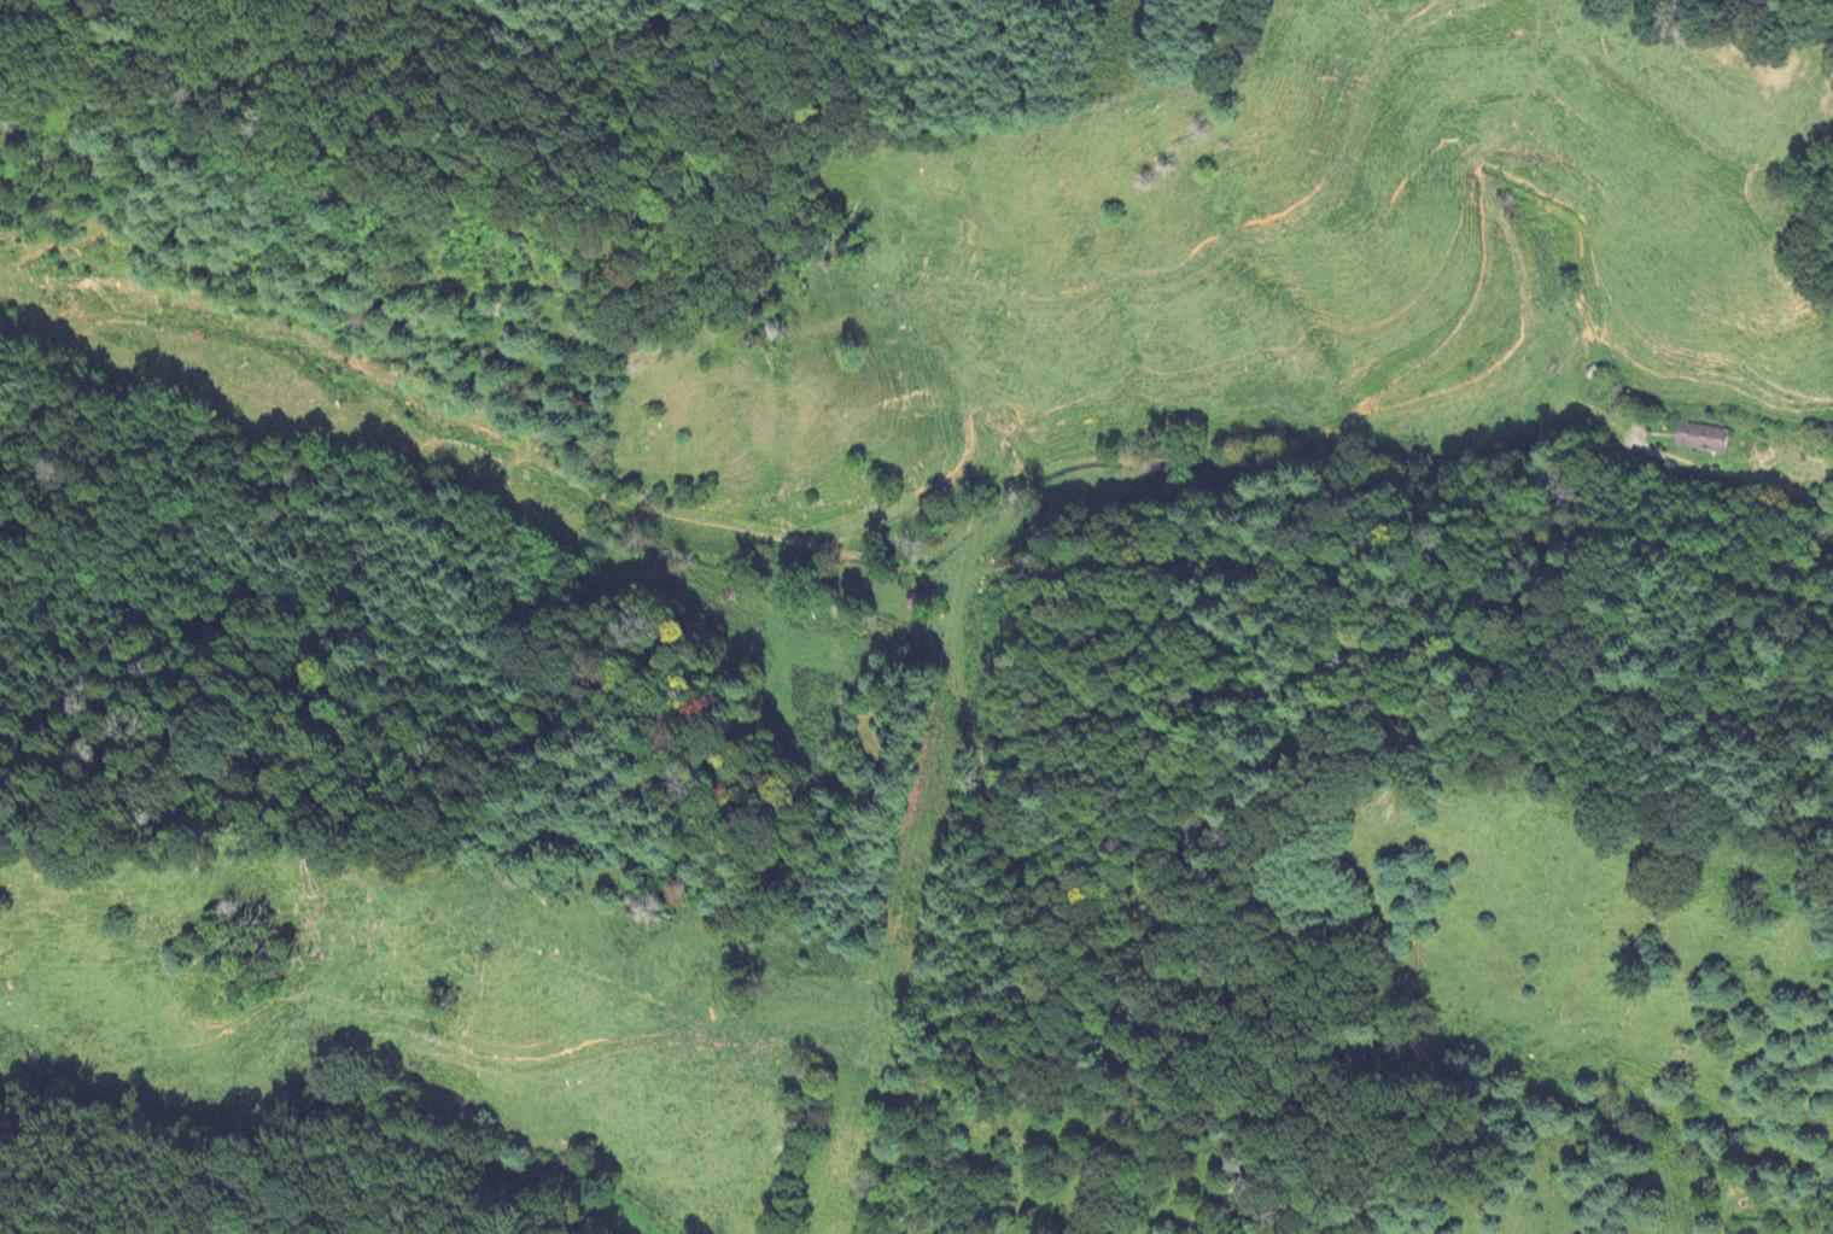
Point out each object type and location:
building: (1548, 403)
building: (1700, 440)

